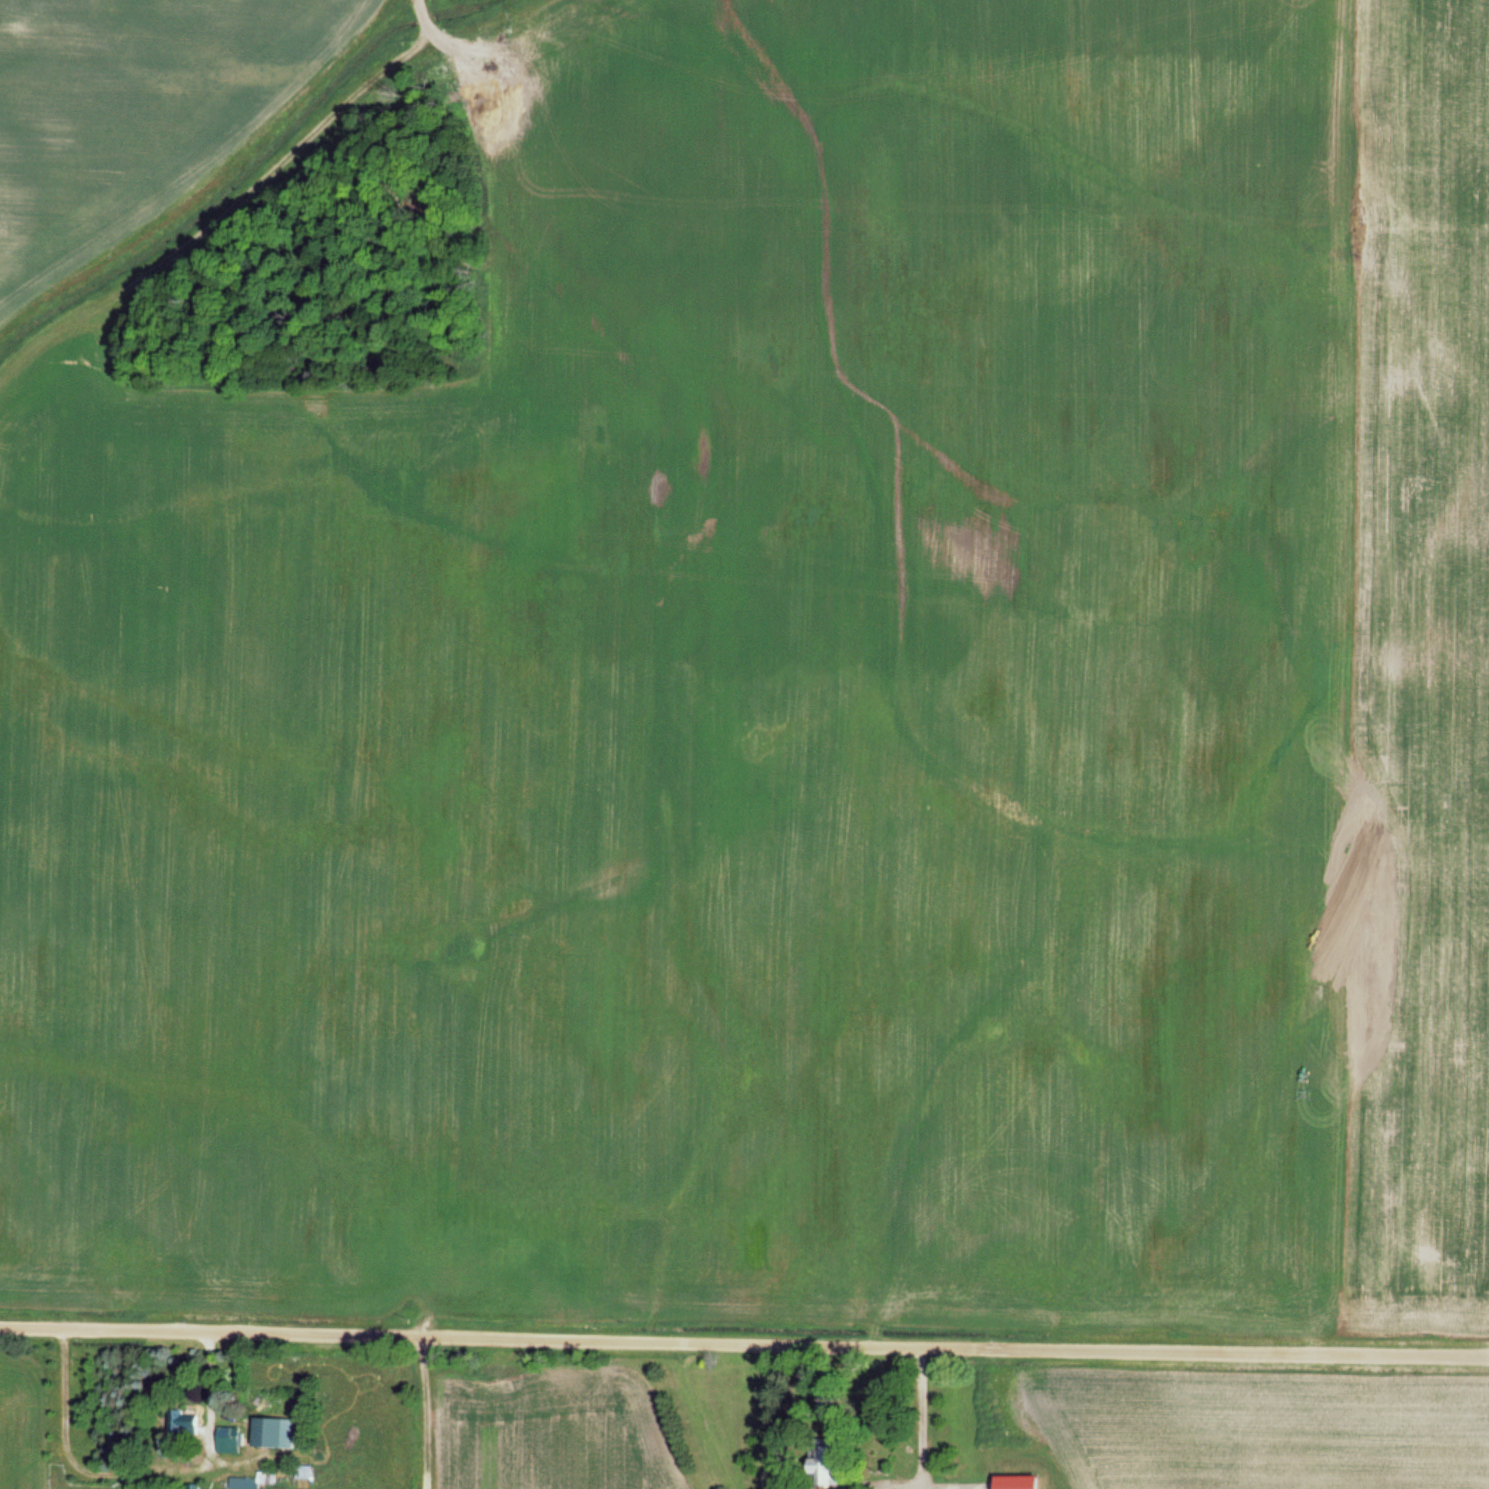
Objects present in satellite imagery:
road: (744, 1339)
building: (181, 1423)
building: (271, 1433)
building: (822, 1462)
building: (301, 1473)
building: (1014, 1483)

